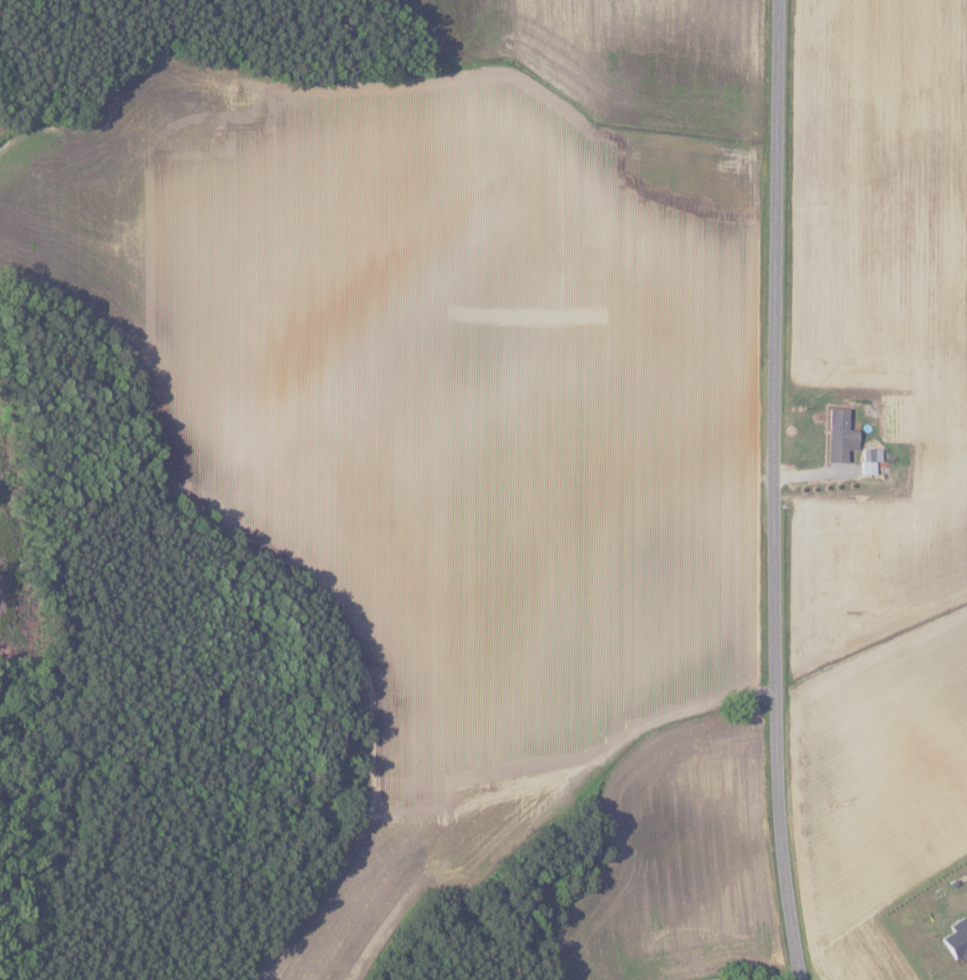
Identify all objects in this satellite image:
building: (839, 436)
building: (869, 460)
road: (783, 490)
building: (956, 937)
building: (715, 979)

